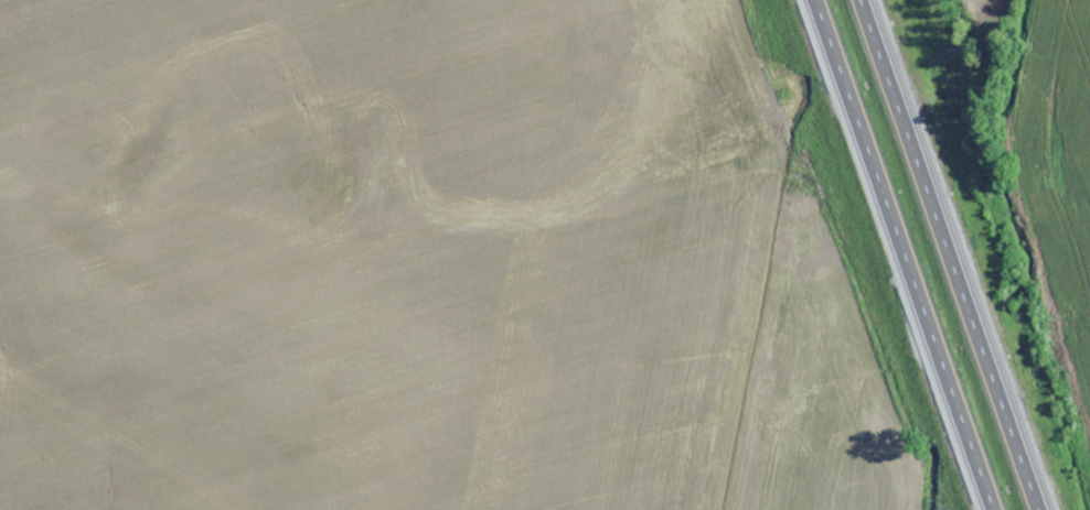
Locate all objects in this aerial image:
road: (901, 254)
road: (953, 254)

